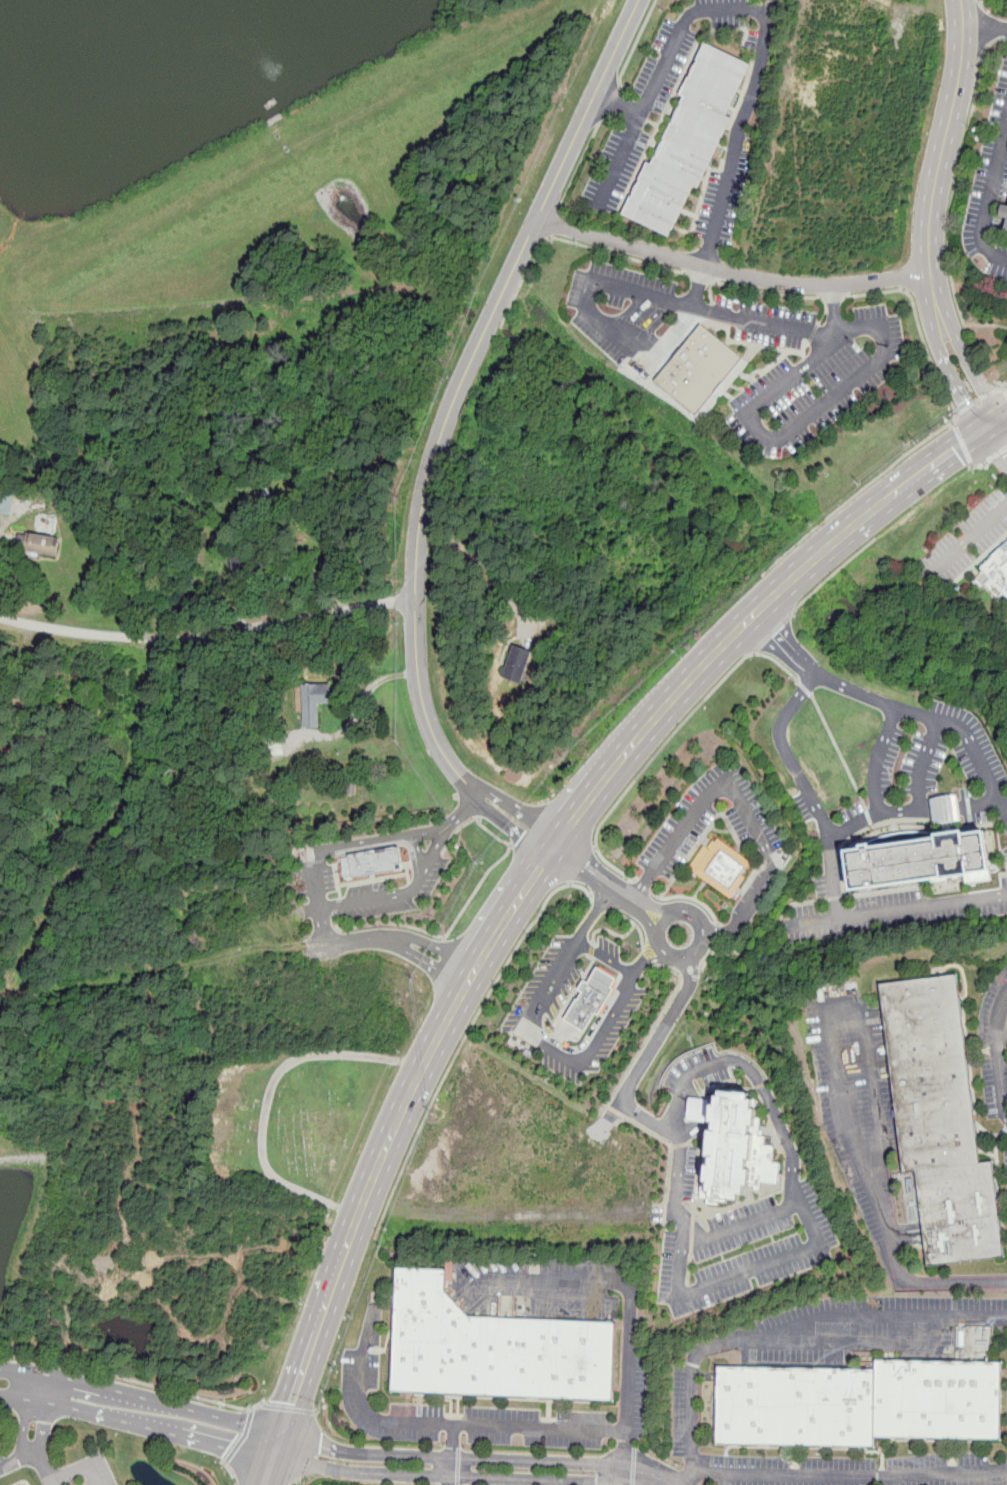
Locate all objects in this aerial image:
road: (981, 2)
road: (985, 24)
road: (984, 28)
road: (631, 51)
parking lot: (657, 93)
road: (607, 103)
road: (629, 139)
building: (687, 141)
road: (579, 165)
parking lot: (990, 188)
road: (952, 195)
road: (988, 198)
parking lot: (723, 199)
road: (722, 203)
building: (1004, 211)
road: (931, 215)
road: (553, 221)
building: (1006, 228)
road: (568, 241)
road: (731, 270)
road: (701, 279)
road: (770, 293)
road: (833, 299)
road: (834, 309)
parking lot: (851, 362)
building: (700, 368)
road: (1004, 387)
road: (1005, 391)
road: (979, 399)
road: (744, 409)
traffic signals: (988, 424)
road: (442, 428)
road: (939, 432)
road: (997, 440)
road: (963, 443)
road: (993, 456)
road: (978, 465)
building: (5, 501)
building: (39, 542)
road: (966, 542)
road: (833, 544)
parking lot: (963, 544)
road: (483, 565)
building: (997, 571)
road: (832, 576)
road: (208, 632)
road: (774, 633)
building: (516, 664)
road: (815, 674)
road: (805, 688)
building: (313, 701)
road: (358, 712)
road: (923, 714)
road: (666, 742)
road: (841, 755)
parking lot: (980, 760)
parking lot: (884, 761)
road: (924, 762)
road: (808, 790)
road: (740, 798)
building: (943, 807)
road: (912, 810)
road: (473, 812)
parking lot: (682, 830)
road: (456, 832)
road: (355, 844)
parking lot: (1006, 851)
road: (437, 853)
road: (417, 856)
building: (920, 857)
building: (371, 862)
road: (581, 865)
building: (724, 867)
road: (604, 879)
road: (643, 886)
parking lot: (359, 888)
road: (399, 894)
road: (689, 897)
road: (601, 903)
road: (897, 910)
parking lot: (899, 912)
road: (594, 913)
road: (638, 927)
road: (451, 928)
road: (609, 931)
road: (716, 932)
road: (362, 939)
road: (409, 940)
road: (701, 949)
parking lot: (609, 952)
road: (448, 953)
road: (606, 957)
road: (644, 959)
road: (430, 966)
building: (590, 998)
parking lot: (540, 1003)
road: (841, 1005)
road: (467, 1032)
parking lot: (995, 1044)
road: (434, 1047)
road: (553, 1047)
road: (998, 1053)
road: (650, 1055)
parking lot: (697, 1072)
road: (268, 1097)
parking lot: (858, 1102)
park: (305, 1118)
building: (941, 1120)
building: (737, 1149)
parking lot: (1006, 1158)
road: (793, 1185)
parking lot: (737, 1241)
road: (683, 1244)
road: (937, 1282)
parking lot: (535, 1284)
road: (792, 1324)
parking lot: (864, 1327)
road: (835, 1338)
building: (492, 1347)
road: (628, 1356)
parking lot: (361, 1373)
road: (133, 1380)
parking lot: (634, 1396)
building: (859, 1401)
road: (363, 1405)
road: (288, 1408)
parking lot: (686, 1410)
road: (140, 1412)
road: (240, 1436)
road: (32, 1437)
road: (452, 1454)
road: (626, 1457)
parking lot: (4, 1464)
road: (272, 1466)
road: (467, 1467)
road: (229, 1468)
parking lot: (852, 1470)
parking lot: (82, 1472)
road: (63, 1475)
road: (842, 1476)
road: (52, 1483)

